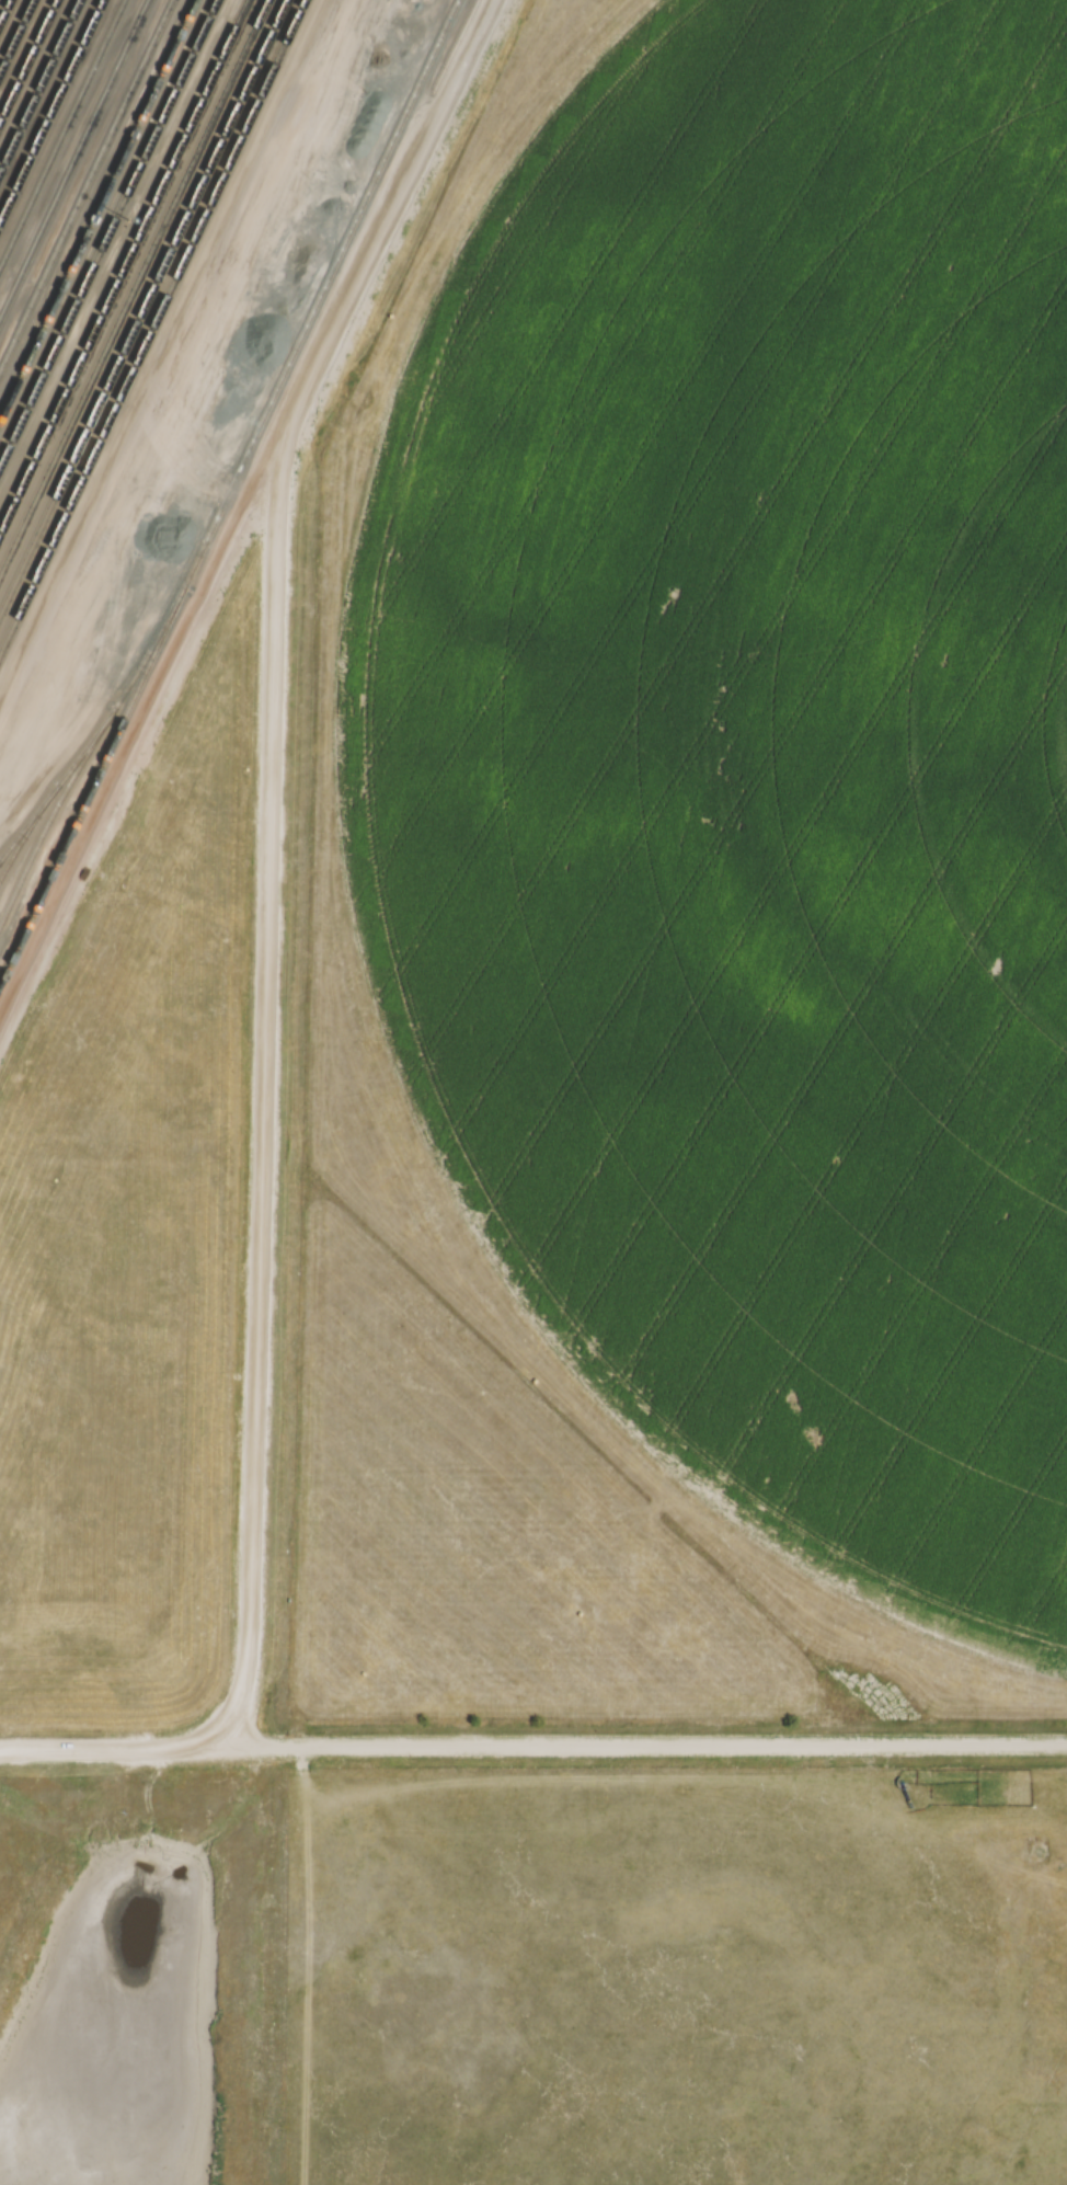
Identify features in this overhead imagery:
railway: (2, 5)
railway: (14, 32)
railway: (452, 45)
railway: (27, 59)
railway: (38, 82)
railway: (50, 108)
railway: (61, 133)
railway: (73, 158)
railway: (84, 181)
railway: (96, 207)
railway: (105, 230)
railway: (123, 263)
railway: (133, 285)
railway: (319, 290)
railway: (141, 307)
railway: (150, 324)
road: (241, 503)
railway: (87, 748)
railway: (92, 782)
railway: (56, 785)
railway: (26, 828)
road: (261, 1086)
road: (533, 1747)

